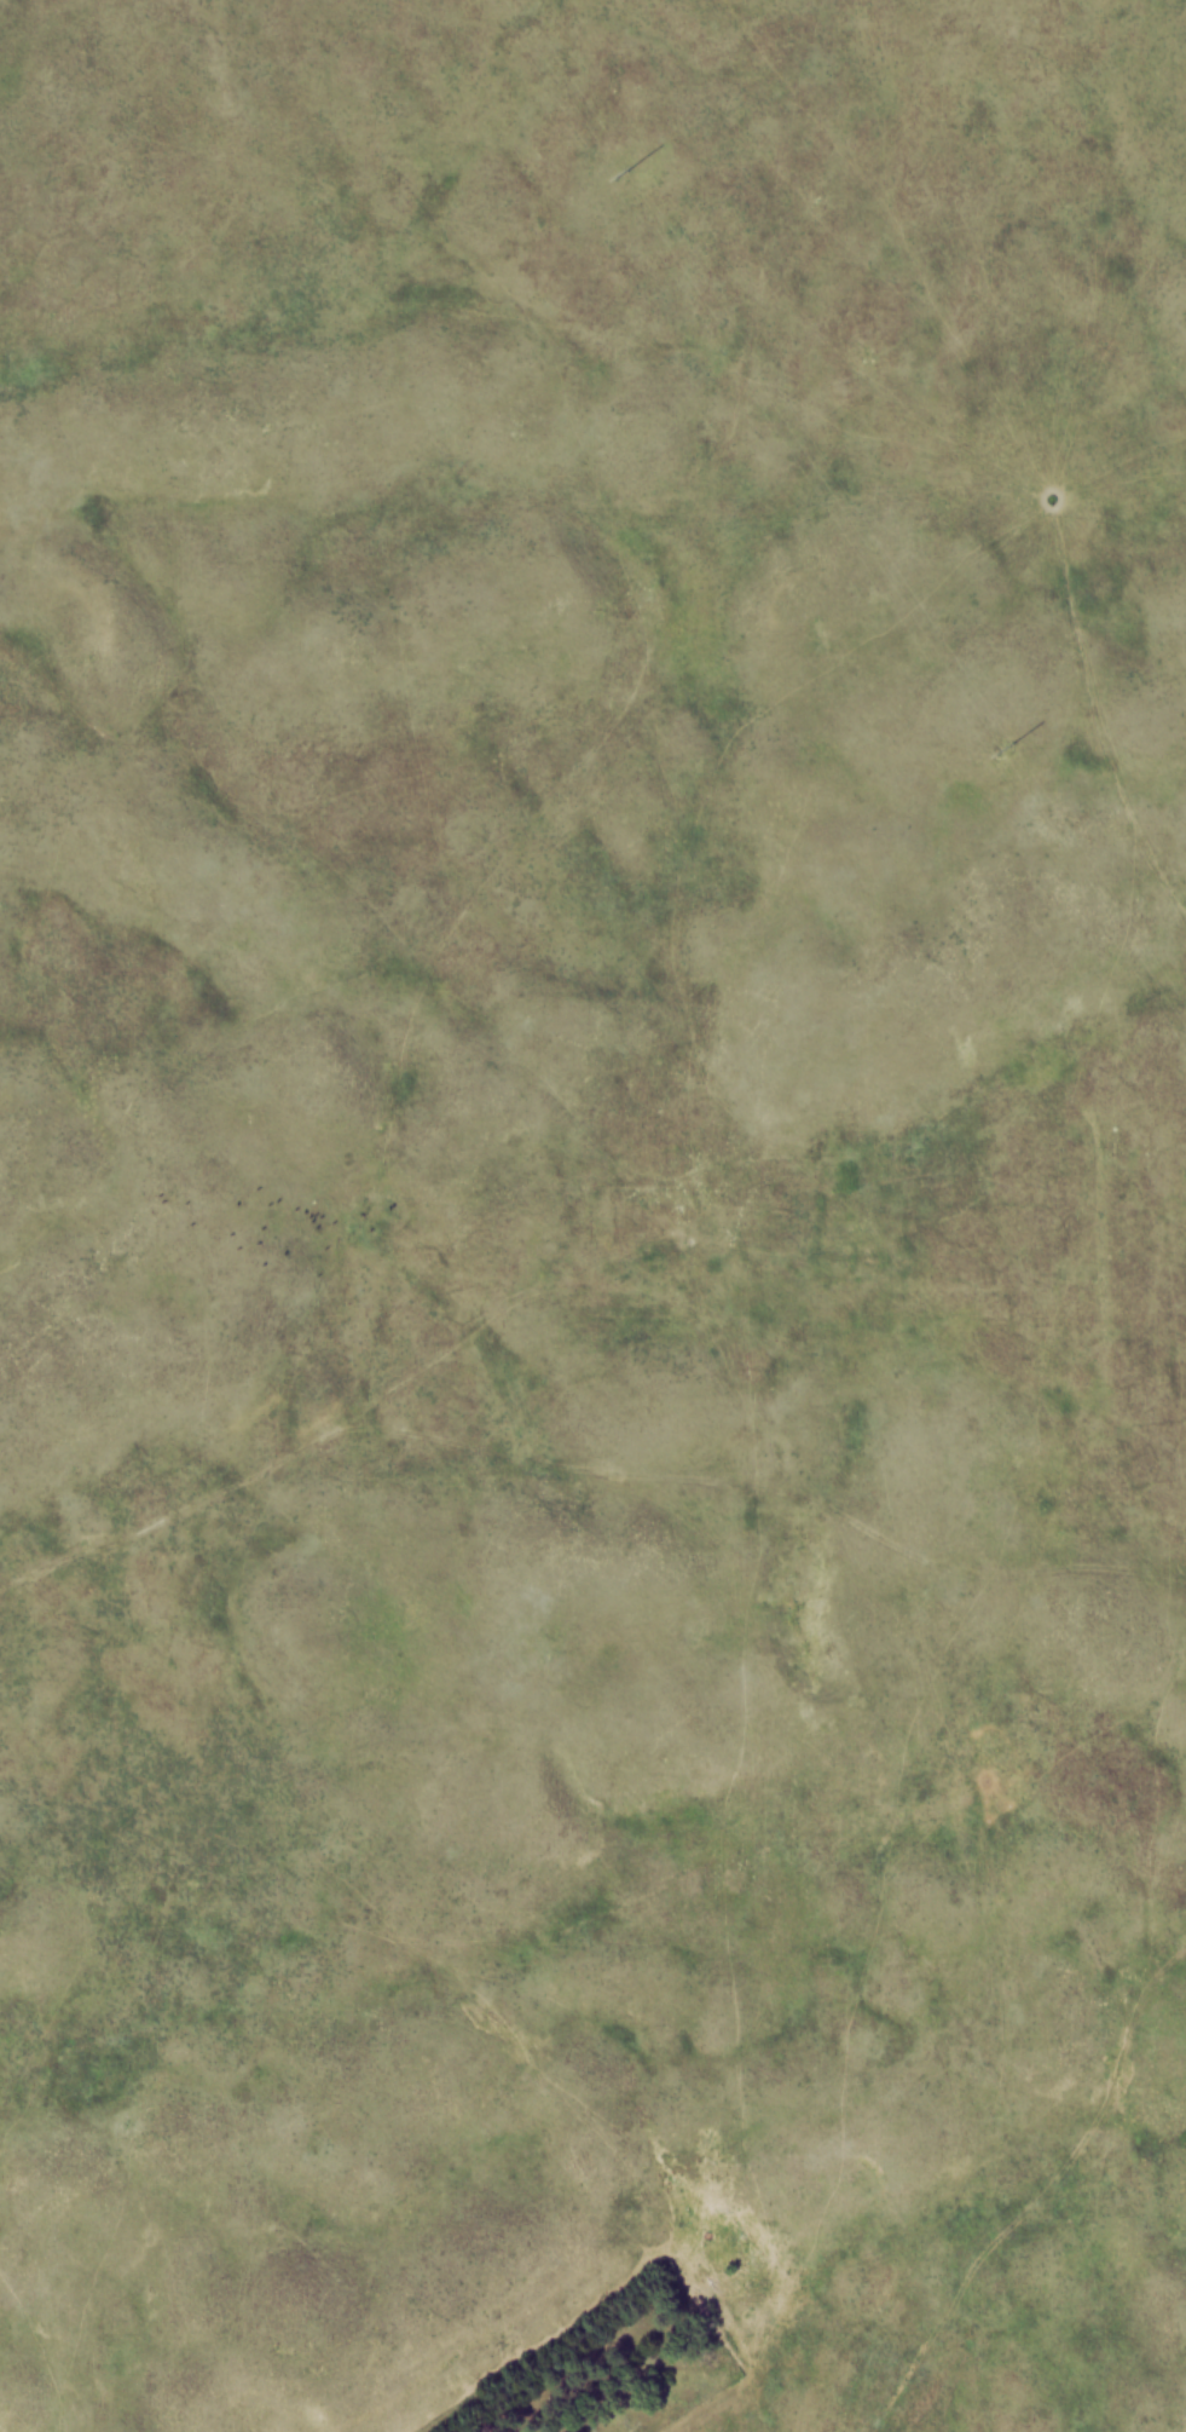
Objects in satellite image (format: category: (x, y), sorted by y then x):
power tower: (629, 172)
power tower: (1009, 748)

